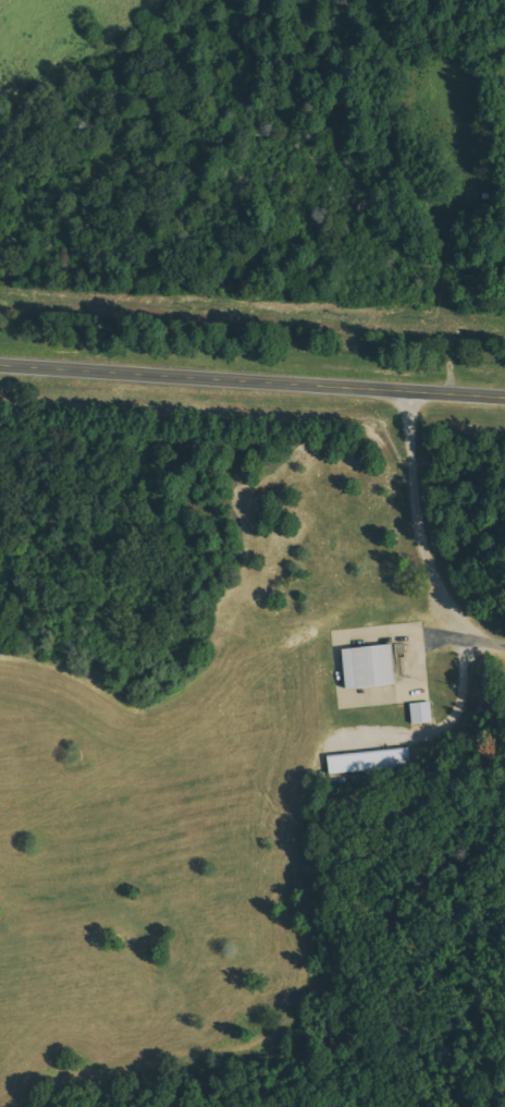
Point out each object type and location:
road: (253, 375)
building: (367, 667)
building: (368, 761)

